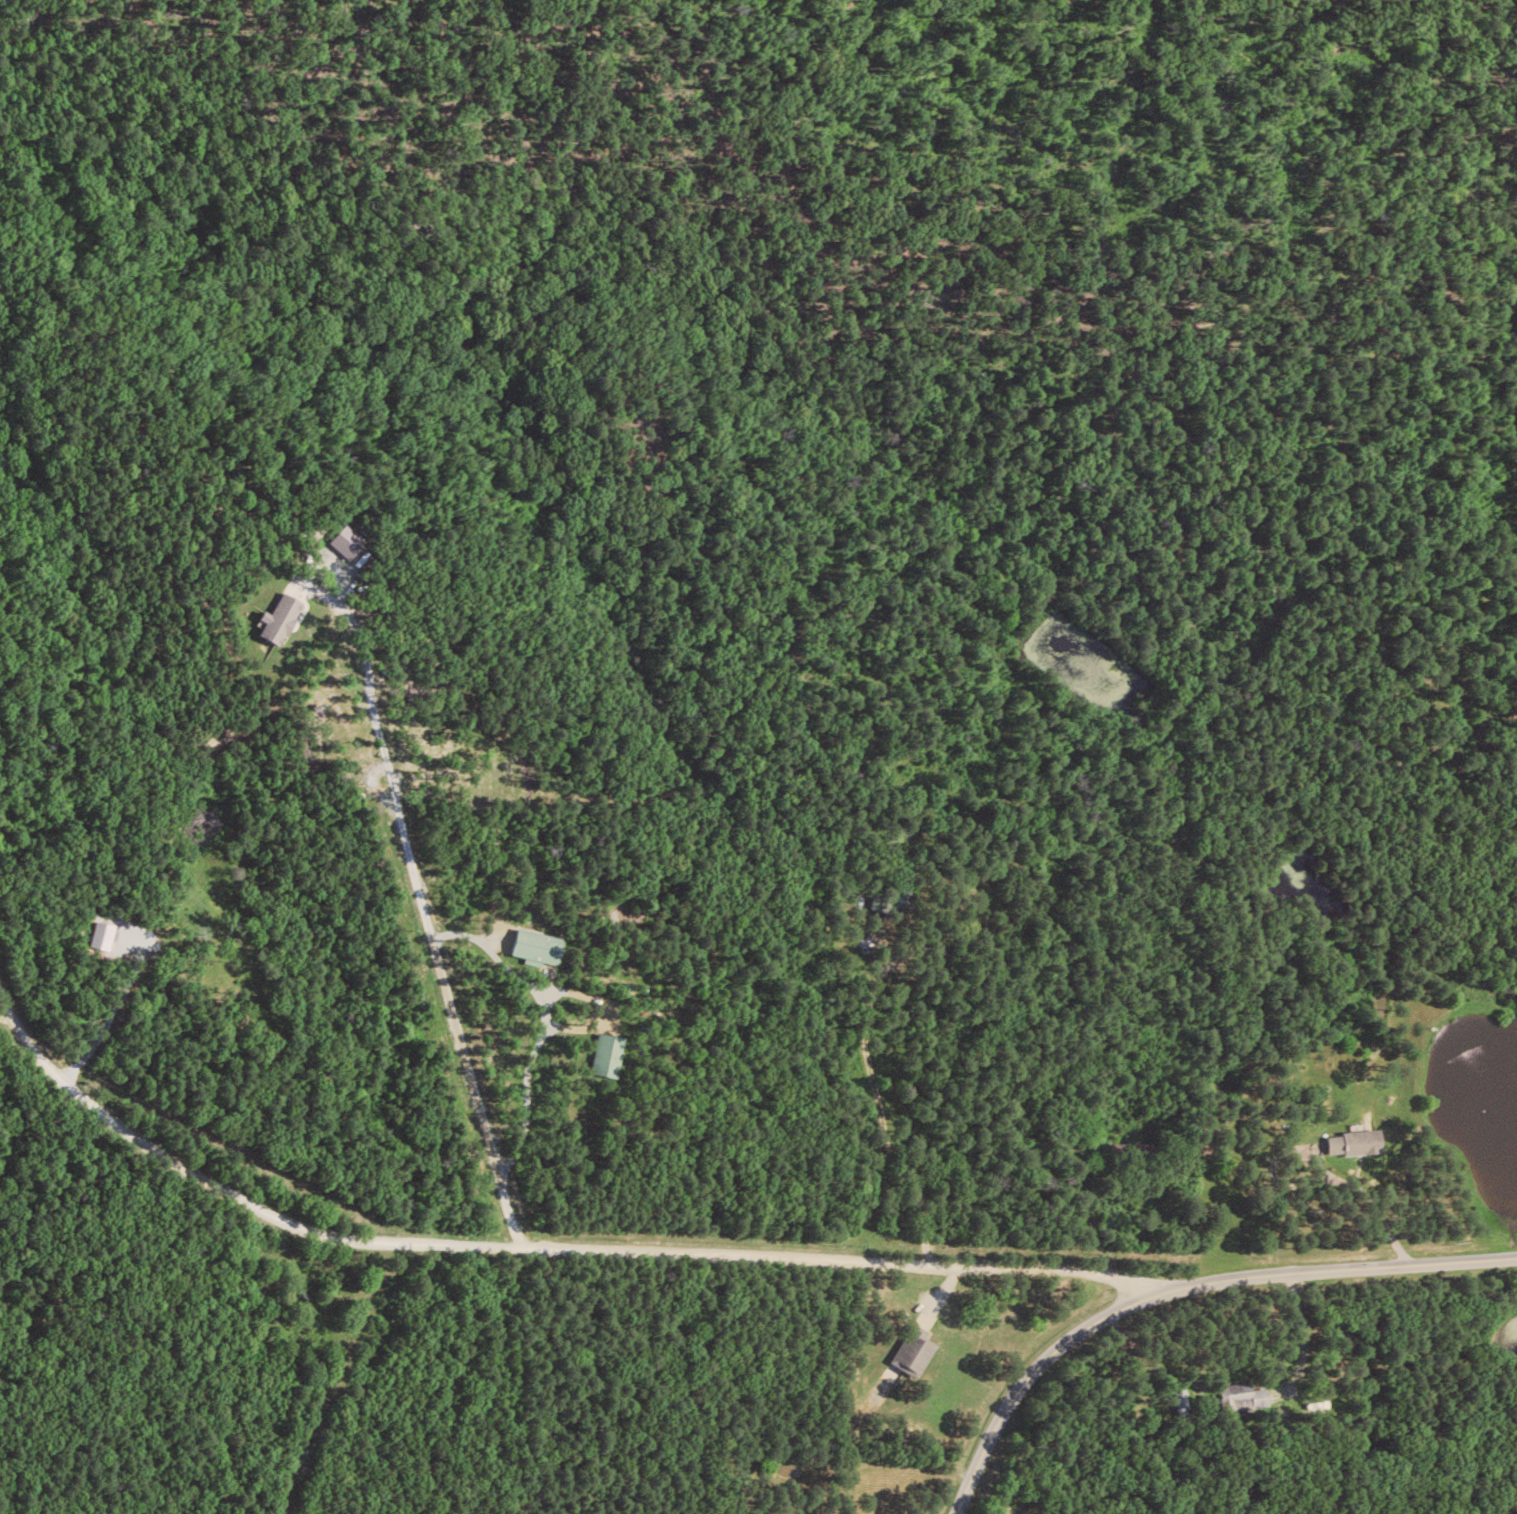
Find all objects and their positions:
building: (347, 540)
building: (279, 618)
building: (103, 933)
building: (537, 946)
building: (609, 1055)
road: (855, 1091)
building: (1356, 1142)
road: (542, 1246)
road: (1178, 1284)
building: (917, 1350)
building: (1242, 1396)

